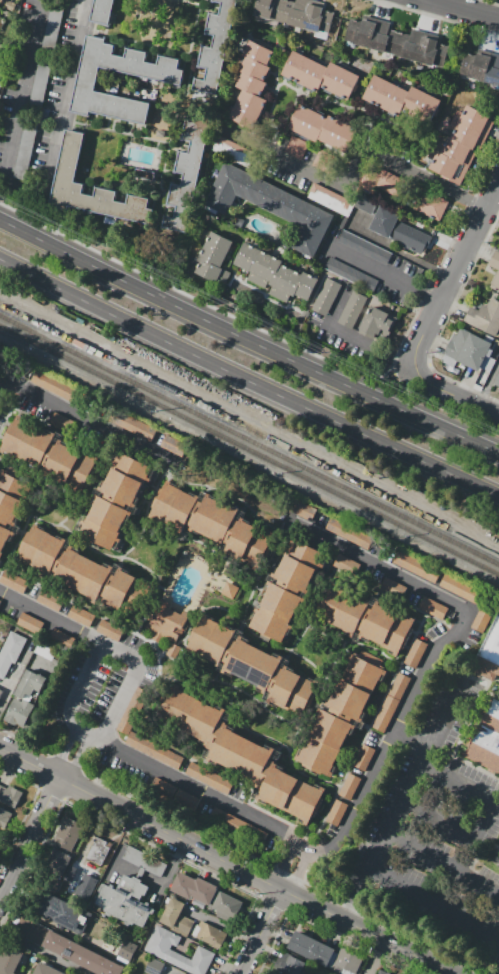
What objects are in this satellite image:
building: (1, 1)
road: (452, 2)
road: (491, 2)
building: (275, 8)
road: (466, 8)
building: (102, 11)
building: (299, 14)
road: (435, 17)
building: (318, 18)
building: (54, 24)
parking lot: (54, 24)
building: (361, 31)
building: (383, 37)
building: (409, 44)
building: (216, 46)
building: (433, 51)
building: (481, 66)
building: (320, 75)
building: (165, 77)
building: (0, 83)
building: (252, 85)
parking lot: (39, 91)
building: (403, 101)
building: (477, 119)
building: (32, 120)
parking lot: (32, 120)
building: (324, 129)
building: (469, 135)
building: (296, 147)
building: (459, 151)
building: (69, 157)
building: (326, 161)
building: (449, 167)
road: (353, 169)
building: (187, 174)
building: (382, 182)
road: (30, 185)
building: (332, 200)
building: (271, 205)
building: (431, 205)
building: (384, 221)
building: (410, 237)
building: (365, 247)
parking lot: (365, 247)
road: (403, 253)
road: (444, 256)
building: (214, 257)
road: (381, 271)
road: (451, 272)
building: (275, 273)
building: (351, 274)
parking lot: (351, 274)
building: (496, 278)
building: (326, 296)
road: (189, 297)
building: (352, 309)
road: (186, 310)
building: (485, 317)
road: (443, 324)
building: (378, 325)
road: (355, 338)
building: (466, 350)
building: (488, 363)
railway: (122, 364)
road: (422, 366)
road: (391, 368)
road: (404, 371)
road: (248, 380)
building: (496, 380)
road: (489, 382)
road: (2, 384)
road: (494, 385)
road: (4, 386)
building: (56, 388)
road: (454, 392)
road: (77, 413)
building: (62, 422)
building: (131, 424)
road: (437, 426)
building: (27, 440)
railway: (249, 440)
railway: (249, 449)
building: (48, 454)
building: (69, 466)
building: (126, 478)
road: (217, 491)
building: (12, 496)
building: (115, 500)
building: (173, 505)
building: (301, 509)
building: (194, 513)
building: (214, 518)
building: (104, 522)
building: (4, 523)
building: (231, 530)
building: (352, 534)
building: (4, 536)
building: (249, 543)
building: (40, 549)
building: (59, 561)
building: (299, 565)
building: (346, 565)
building: (415, 567)
building: (82, 574)
building: (13, 581)
building: (107, 584)
building: (288, 586)
building: (393, 587)
building: (230, 590)
building: (127, 593)
building: (49, 600)
building: (471, 600)
building: (432, 607)
building: (341, 608)
building: (276, 612)
building: (80, 616)
building: (364, 618)
building: (29, 622)
building: (166, 625)
building: (387, 628)
building: (109, 630)
building: (60, 638)
building: (210, 639)
road: (105, 647)
building: (490, 647)
building: (10, 649)
building: (43, 650)
building: (228, 650)
building: (415, 653)
road: (35, 654)
road: (40, 656)
road: (46, 659)
road: (52, 662)
road: (56, 664)
building: (252, 664)
road: (16, 671)
building: (275, 679)
building: (28, 684)
building: (354, 686)
building: (0, 690)
building: (293, 692)
road: (38, 699)
building: (390, 702)
building: (17, 711)
building: (190, 714)
building: (340, 714)
building: (129, 715)
road: (443, 721)
building: (217, 733)
road: (412, 738)
building: (487, 738)
building: (324, 742)
road: (63, 749)
building: (153, 751)
building: (241, 754)
road: (78, 756)
building: (363, 757)
building: (265, 773)
building: (208, 778)
building: (0, 785)
building: (349, 786)
building: (162, 788)
road: (476, 789)
building: (291, 794)
building: (10, 795)
building: (185, 800)
building: (336, 812)
building: (4, 817)
road: (349, 817)
building: (233, 825)
building: (0, 833)
building: (68, 833)
road: (30, 836)
road: (399, 839)
road: (156, 841)
building: (98, 850)
road: (225, 859)
building: (144, 860)
building: (58, 861)
road: (284, 865)
building: (70, 873)
building: (139, 873)
road: (298, 873)
road: (138, 875)
road: (158, 882)
building: (52, 883)
building: (85, 887)
building: (132, 887)
building: (194, 888)
building: (122, 905)
building: (225, 905)
road: (431, 908)
building: (64, 913)
building: (176, 916)
road: (55, 925)
road: (221, 926)
road: (259, 931)
building: (209, 934)
building: (66, 947)
building: (312, 948)
building: (126, 949)
building: (160, 951)
road: (42, 953)
road: (374, 956)
building: (9, 959)
building: (346, 962)
building: (291, 965)
building: (154, 966)
building: (45, 969)
road: (174, 972)
building: (382, 972)
building: (318, 973)
building: (322, 973)

